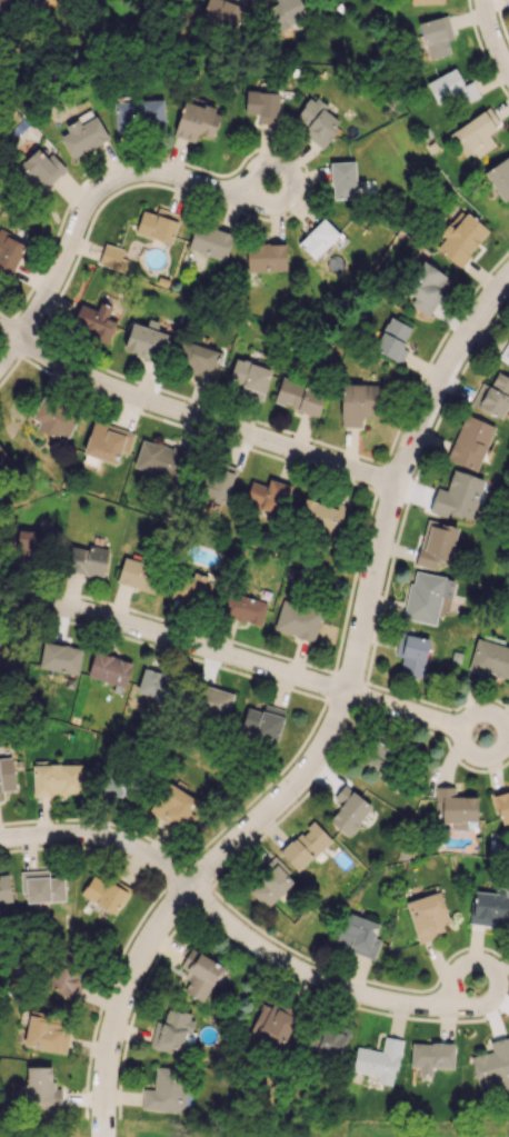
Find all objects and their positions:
building: (166, 0)
building: (426, 1)
building: (36, 2)
building: (223, 12)
building: (285, 13)
road: (492, 36)
building: (436, 37)
building: (449, 89)
building: (262, 106)
building: (139, 114)
building: (196, 121)
building: (317, 121)
building: (479, 132)
building: (82, 136)
building: (39, 170)
building: (499, 178)
building: (342, 179)
road: (103, 191)
building: (158, 225)
building: (460, 237)
building: (318, 238)
building: (210, 241)
building: (9, 252)
building: (266, 257)
building: (112, 258)
building: (426, 287)
building: (94, 320)
building: (392, 339)
building: (146, 341)
building: (506, 349)
road: (11, 357)
building: (197, 357)
building: (250, 377)
building: (299, 396)
building: (492, 397)
building: (358, 402)
building: (53, 417)
road: (193, 418)
building: (107, 441)
building: (469, 442)
building: (3, 459)
building: (159, 459)
building: (217, 482)
building: (266, 496)
building: (457, 496)
building: (319, 516)
building: (27, 536)
building: (436, 543)
building: (87, 560)
building: (140, 575)
building: (192, 587)
building: (423, 597)
building: (243, 608)
building: (297, 620)
road: (176, 640)
building: (412, 654)
building: (60, 657)
building: (490, 658)
building: (8, 665)
building: (109, 669)
building: (156, 686)
building: (212, 702)
road: (425, 717)
road: (339, 719)
building: (263, 721)
building: (379, 757)
building: (7, 775)
building: (57, 778)
building: (112, 784)
building: (501, 805)
building: (174, 806)
building: (455, 807)
building: (348, 809)
road: (100, 839)
building: (305, 846)
building: (270, 884)
building: (41, 887)
building: (4, 888)
building: (104, 892)
building: (489, 907)
building: (427, 915)
building: (358, 936)
building: (199, 974)
building: (66, 978)
road: (321, 984)
building: (271, 1025)
building: (171, 1030)
building: (46, 1031)
building: (331, 1040)
building: (431, 1056)
building: (378, 1060)
building: (492, 1065)
building: (41, 1087)
building: (166, 1090)
road: (108, 1126)

